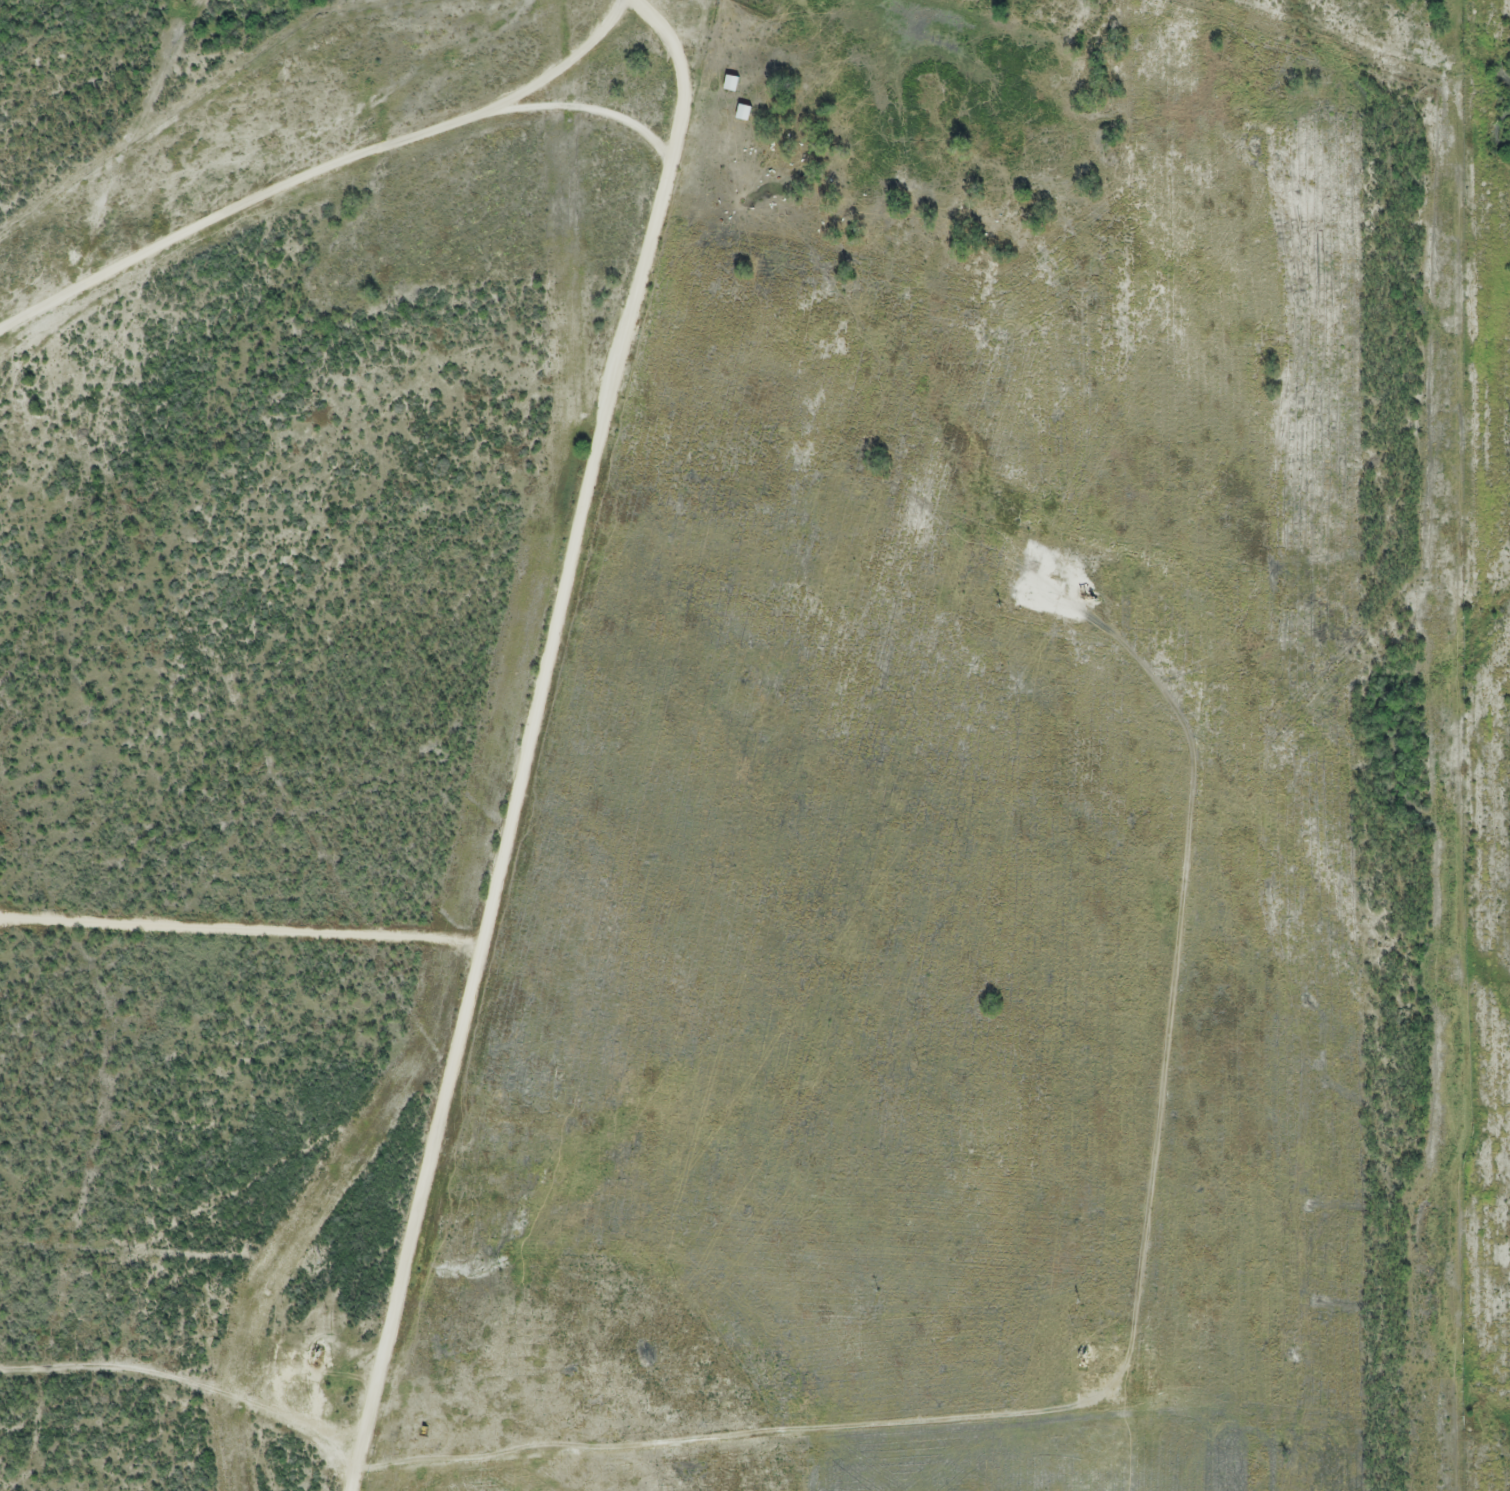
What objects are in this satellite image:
building: (729, 82)
building: (742, 110)
road: (317, 167)

